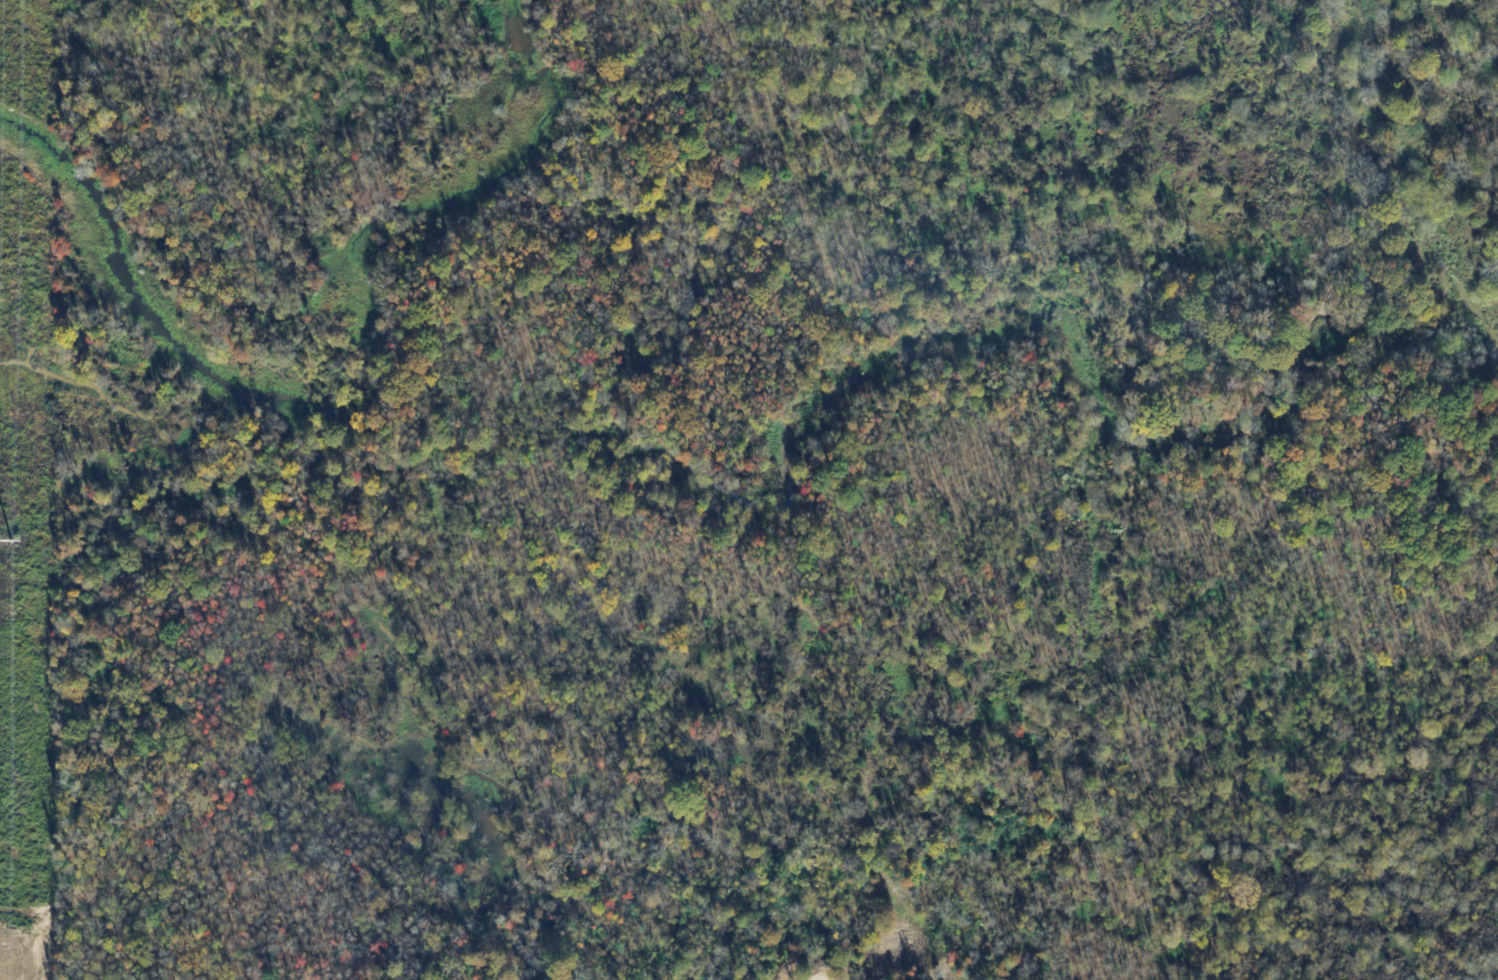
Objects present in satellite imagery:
power tower: (24, 545)

